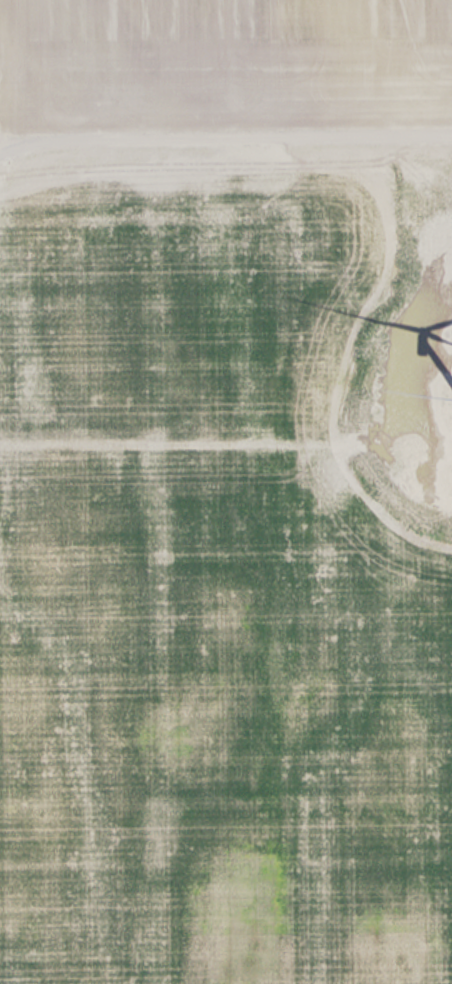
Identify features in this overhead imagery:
road: (226, 128)

